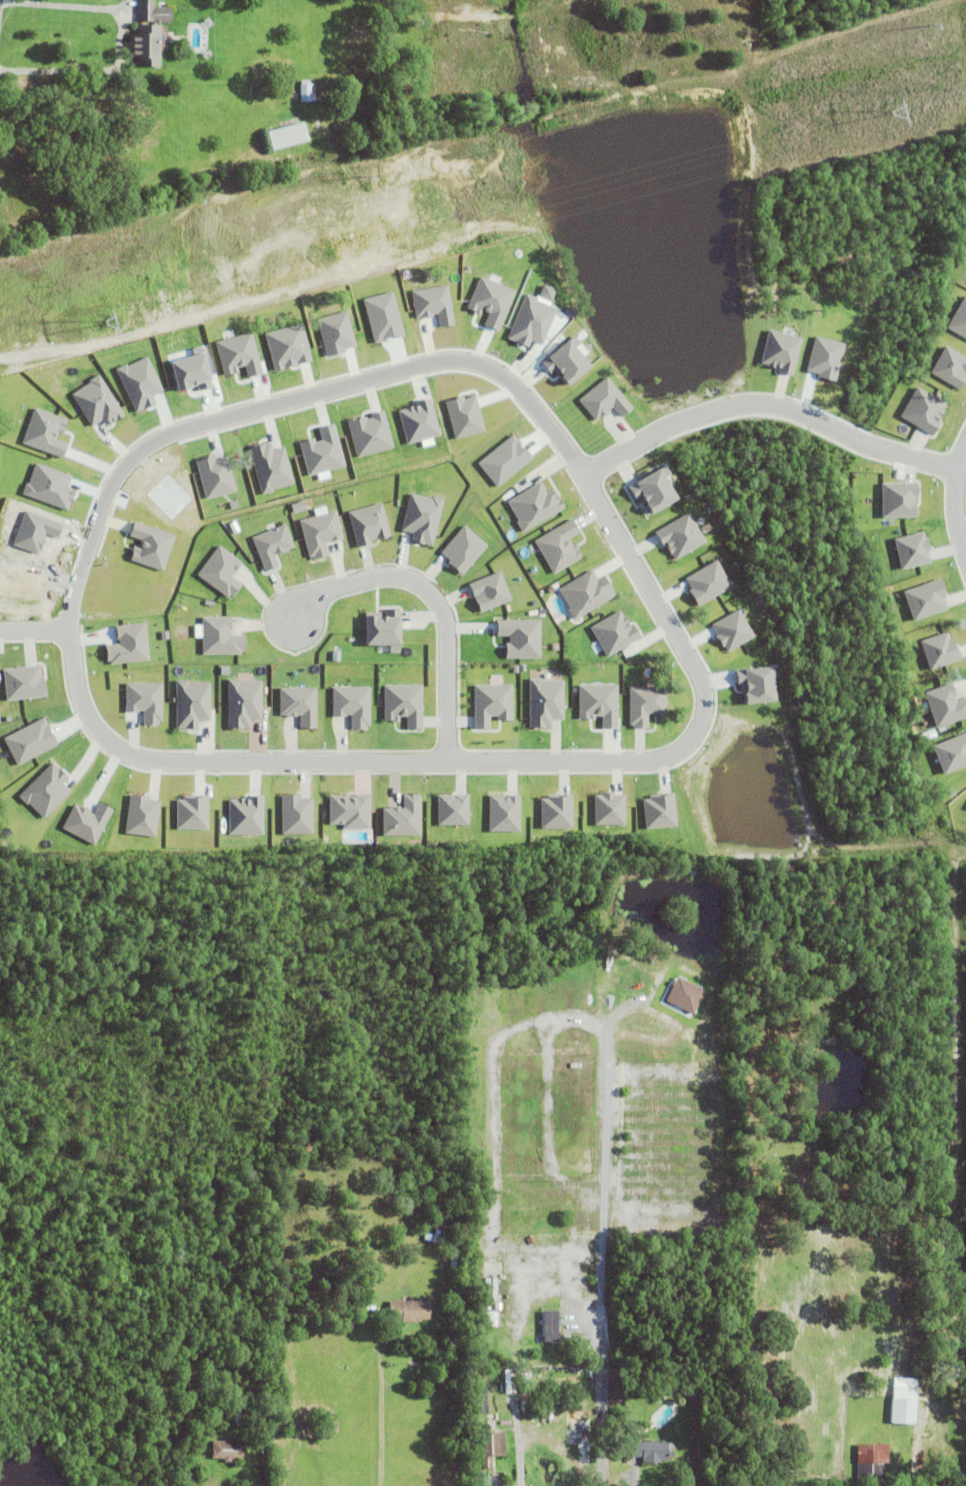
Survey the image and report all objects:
road: (63, 11)
building: (152, 12)
building: (146, 44)
road: (87, 74)
building: (307, 91)
power tower: (887, 111)
building: (289, 135)
building: (960, 319)
power tower: (100, 321)
building: (782, 351)
building: (951, 367)
building: (606, 400)
road: (765, 404)
building: (925, 410)
building: (656, 489)
road: (952, 498)
building: (901, 499)
building: (537, 505)
building: (422, 517)
building: (369, 524)
building: (321, 533)
building: (682, 536)
building: (273, 545)
building: (560, 546)
building: (464, 548)
building: (914, 549)
building: (222, 571)
building: (709, 582)
building: (491, 591)
building: (588, 593)
building: (927, 598)
road: (434, 600)
building: (385, 628)
building: (733, 630)
road: (35, 631)
building: (616, 633)
building: (219, 636)
building: (521, 637)
building: (129, 644)
building: (941, 650)
building: (24, 682)
building: (759, 684)
building: (145, 700)
building: (244, 702)
building: (546, 702)
building: (192, 703)
building: (493, 703)
building: (600, 703)
building: (300, 704)
building: (405, 704)
building: (353, 705)
building: (647, 705)
building: (946, 705)
building: (952, 753)
road: (153, 762)
building: (47, 790)
building: (453, 809)
building: (610, 809)
building: (350, 811)
building: (661, 811)
building: (192, 812)
building: (557, 812)
building: (505, 813)
building: (246, 815)
building: (297, 815)
building: (143, 816)
building: (403, 817)
building: (87, 822)
building: (526, 1190)
building: (535, 1208)
building: (531, 1226)
building: (525, 1245)
building: (453, 1254)
road: (555, 1285)
building: (409, 1312)
building: (550, 1328)
building: (496, 1331)
building: (492, 1404)
building: (903, 1407)
road: (378, 1412)
building: (484, 1419)
building: (240, 1420)
building: (492, 1449)
building: (228, 1452)
building: (652, 1452)
building: (872, 1464)
building: (482, 1479)
building: (510, 1481)
road: (631, 1481)

